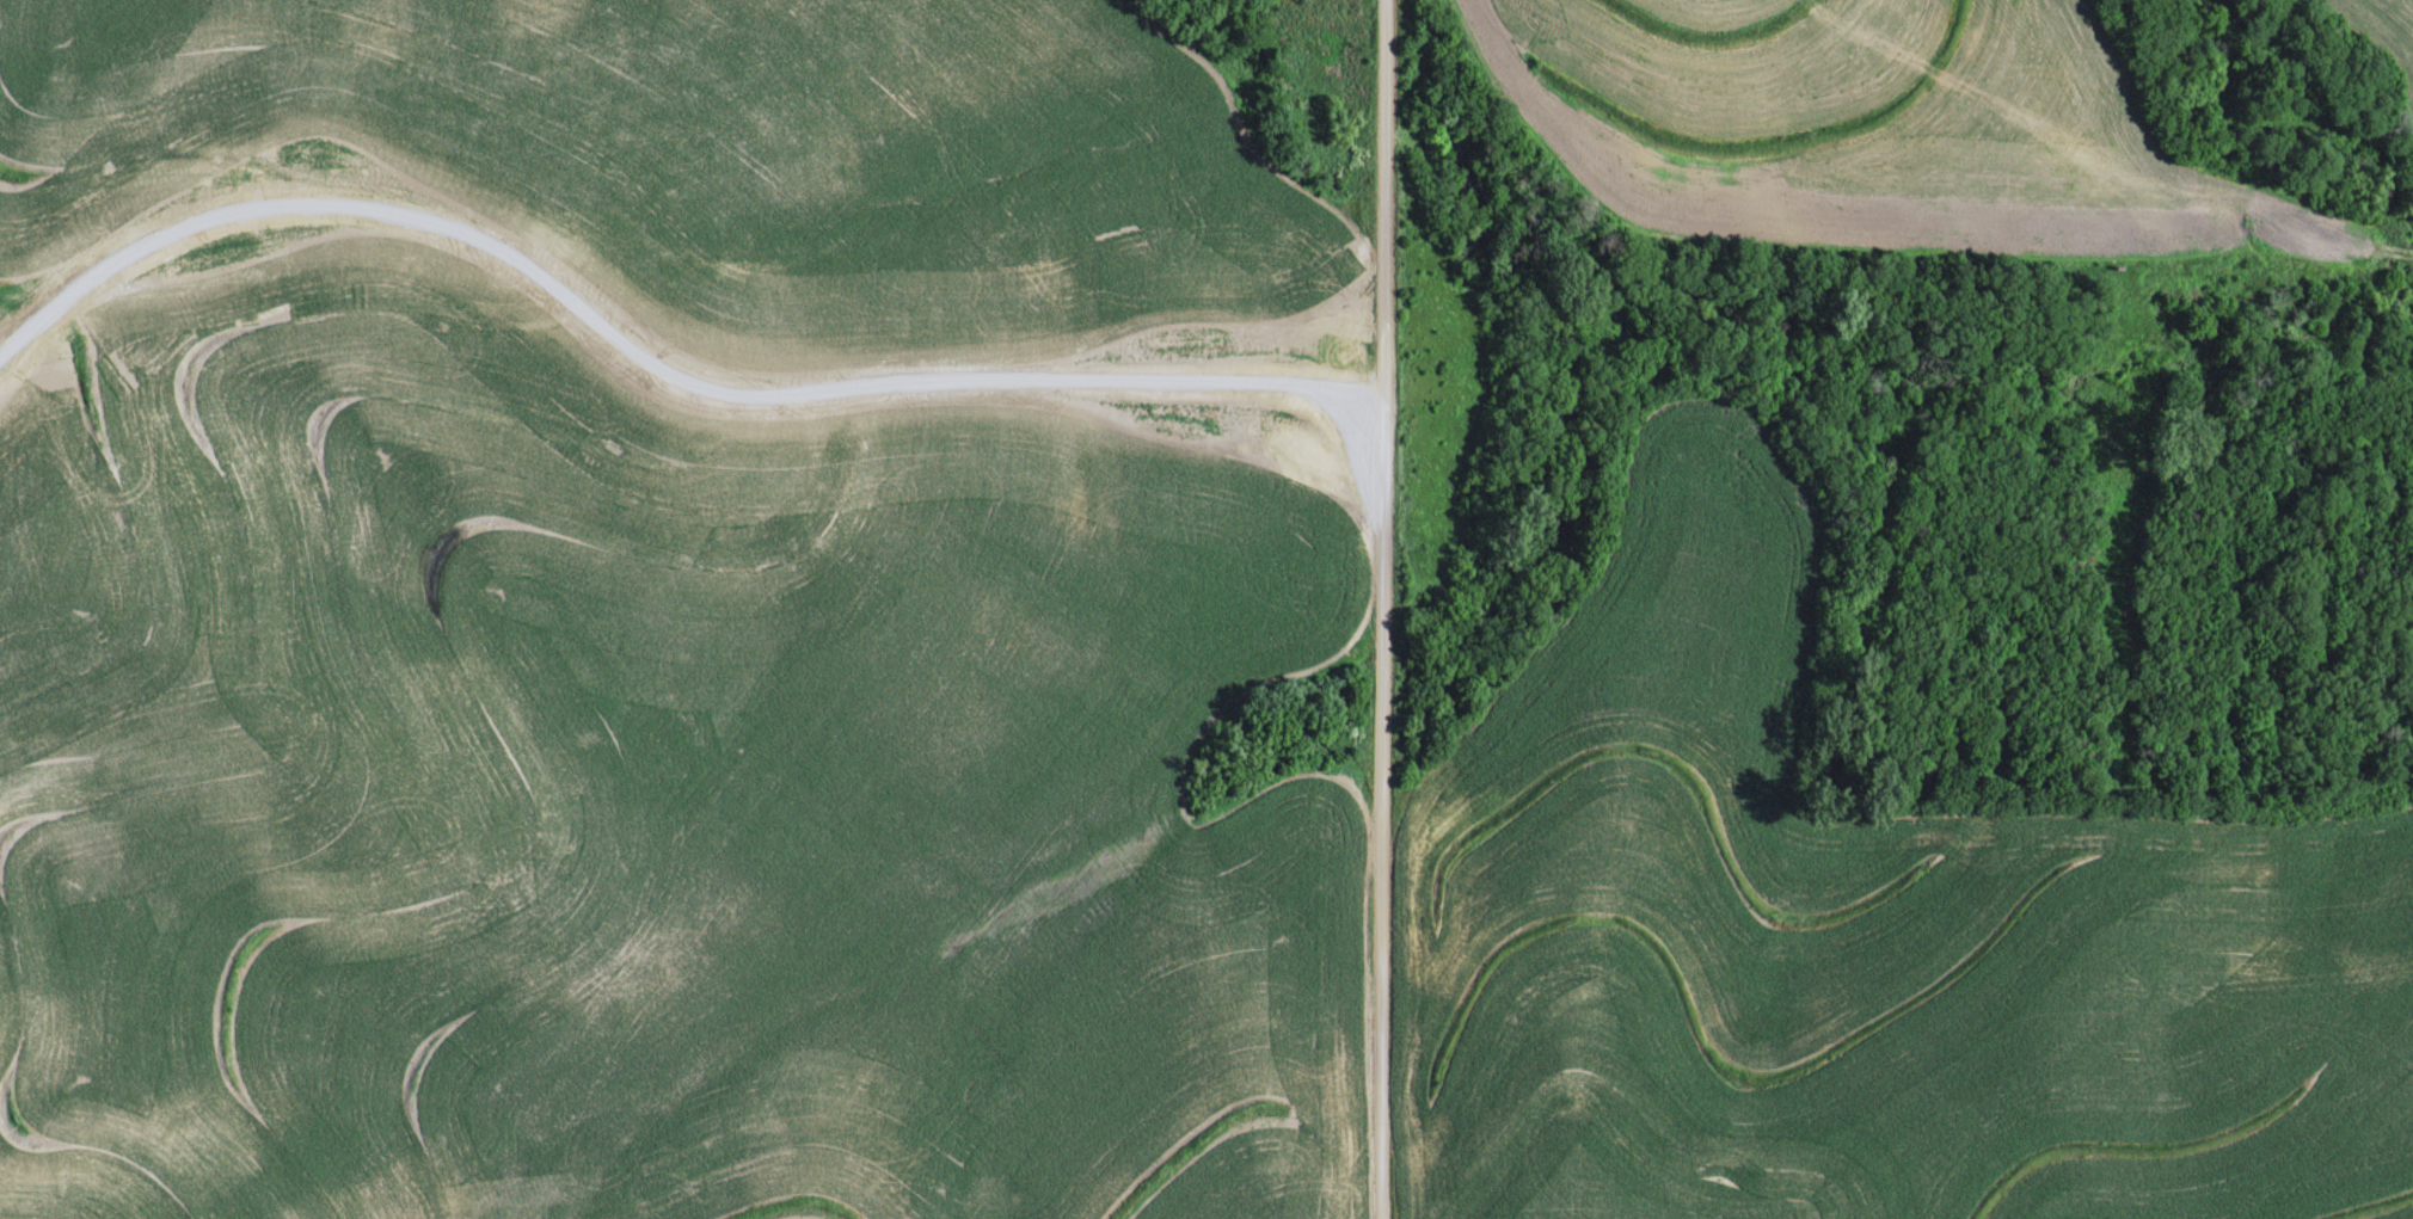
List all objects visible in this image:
road: (1387, 609)

